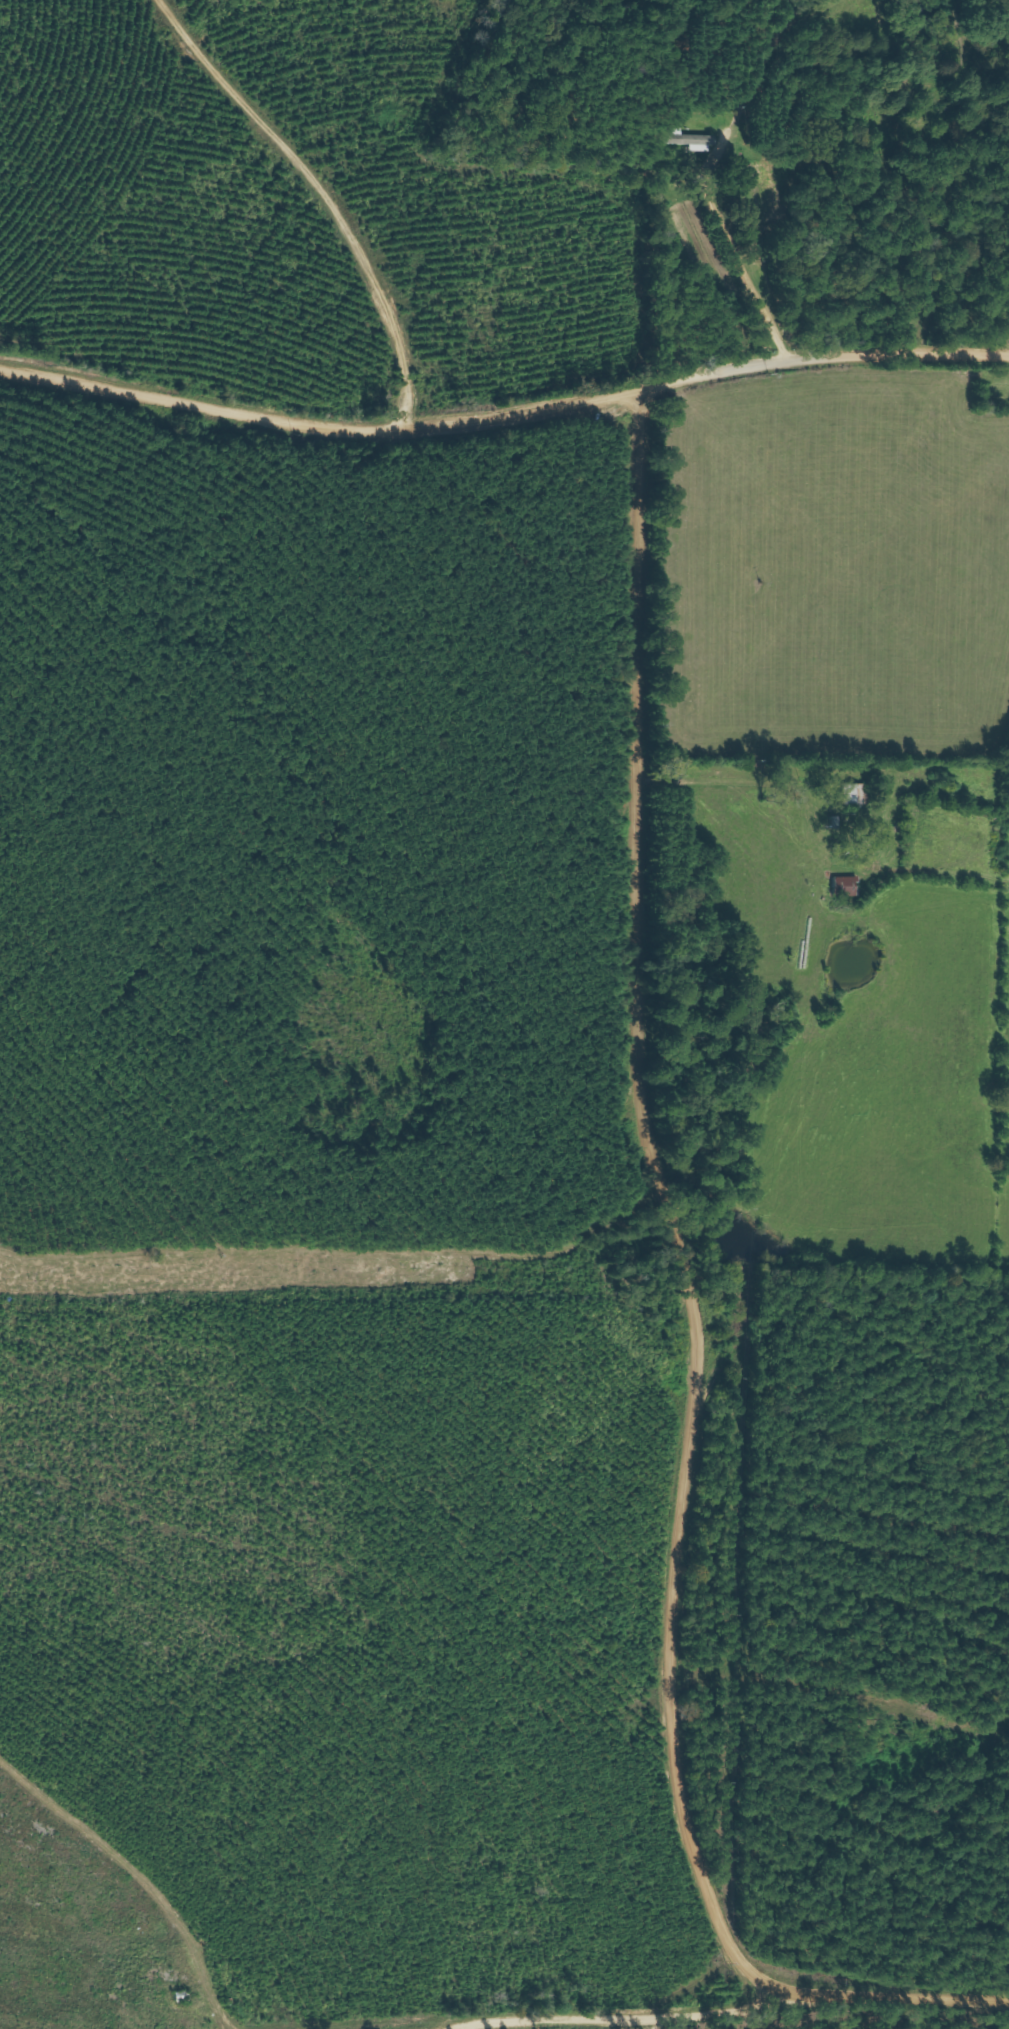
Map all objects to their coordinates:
road: (736, 263)
road: (504, 418)
road: (725, 781)
building: (851, 793)
building: (842, 885)
road: (669, 1222)
road: (758, 2004)

